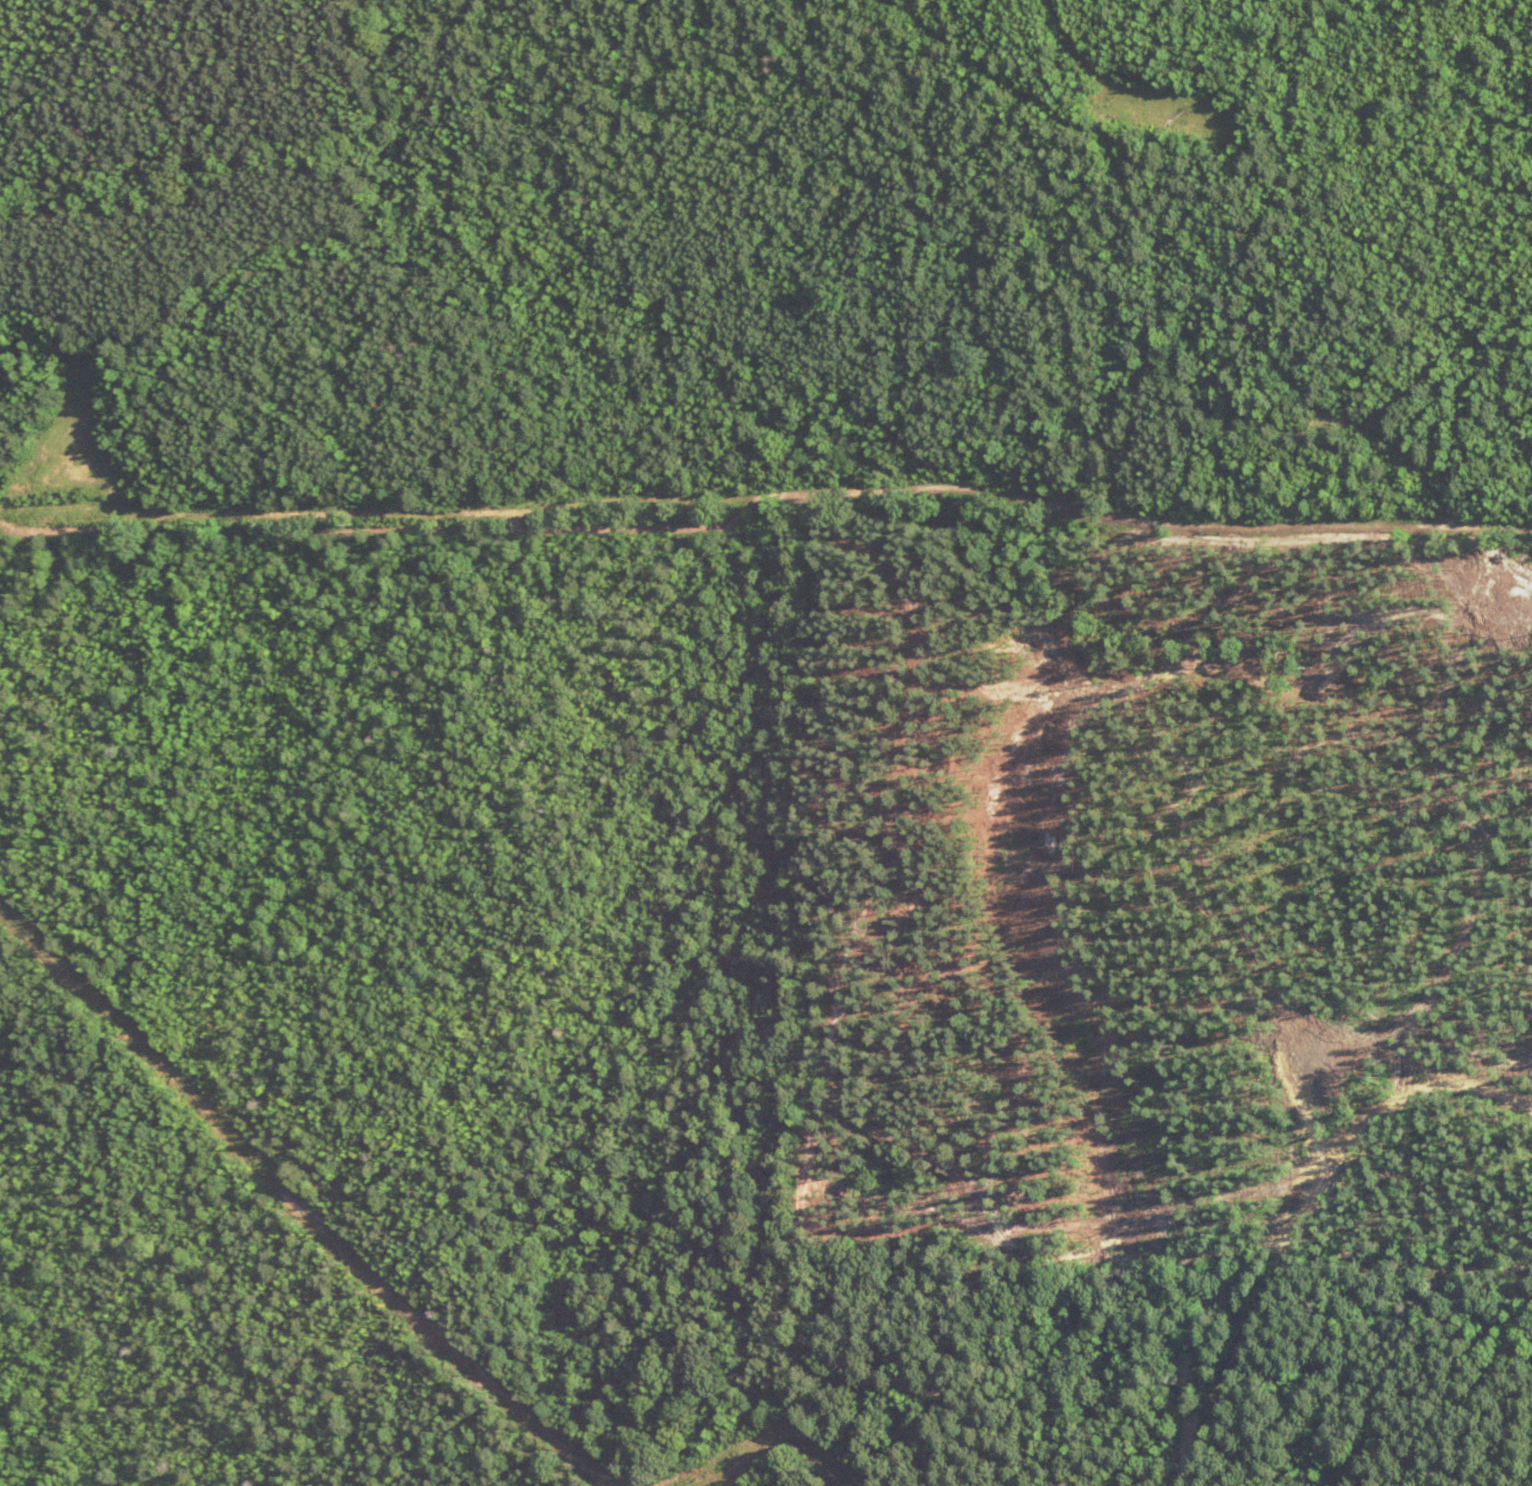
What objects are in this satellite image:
road: (966, 1402)

